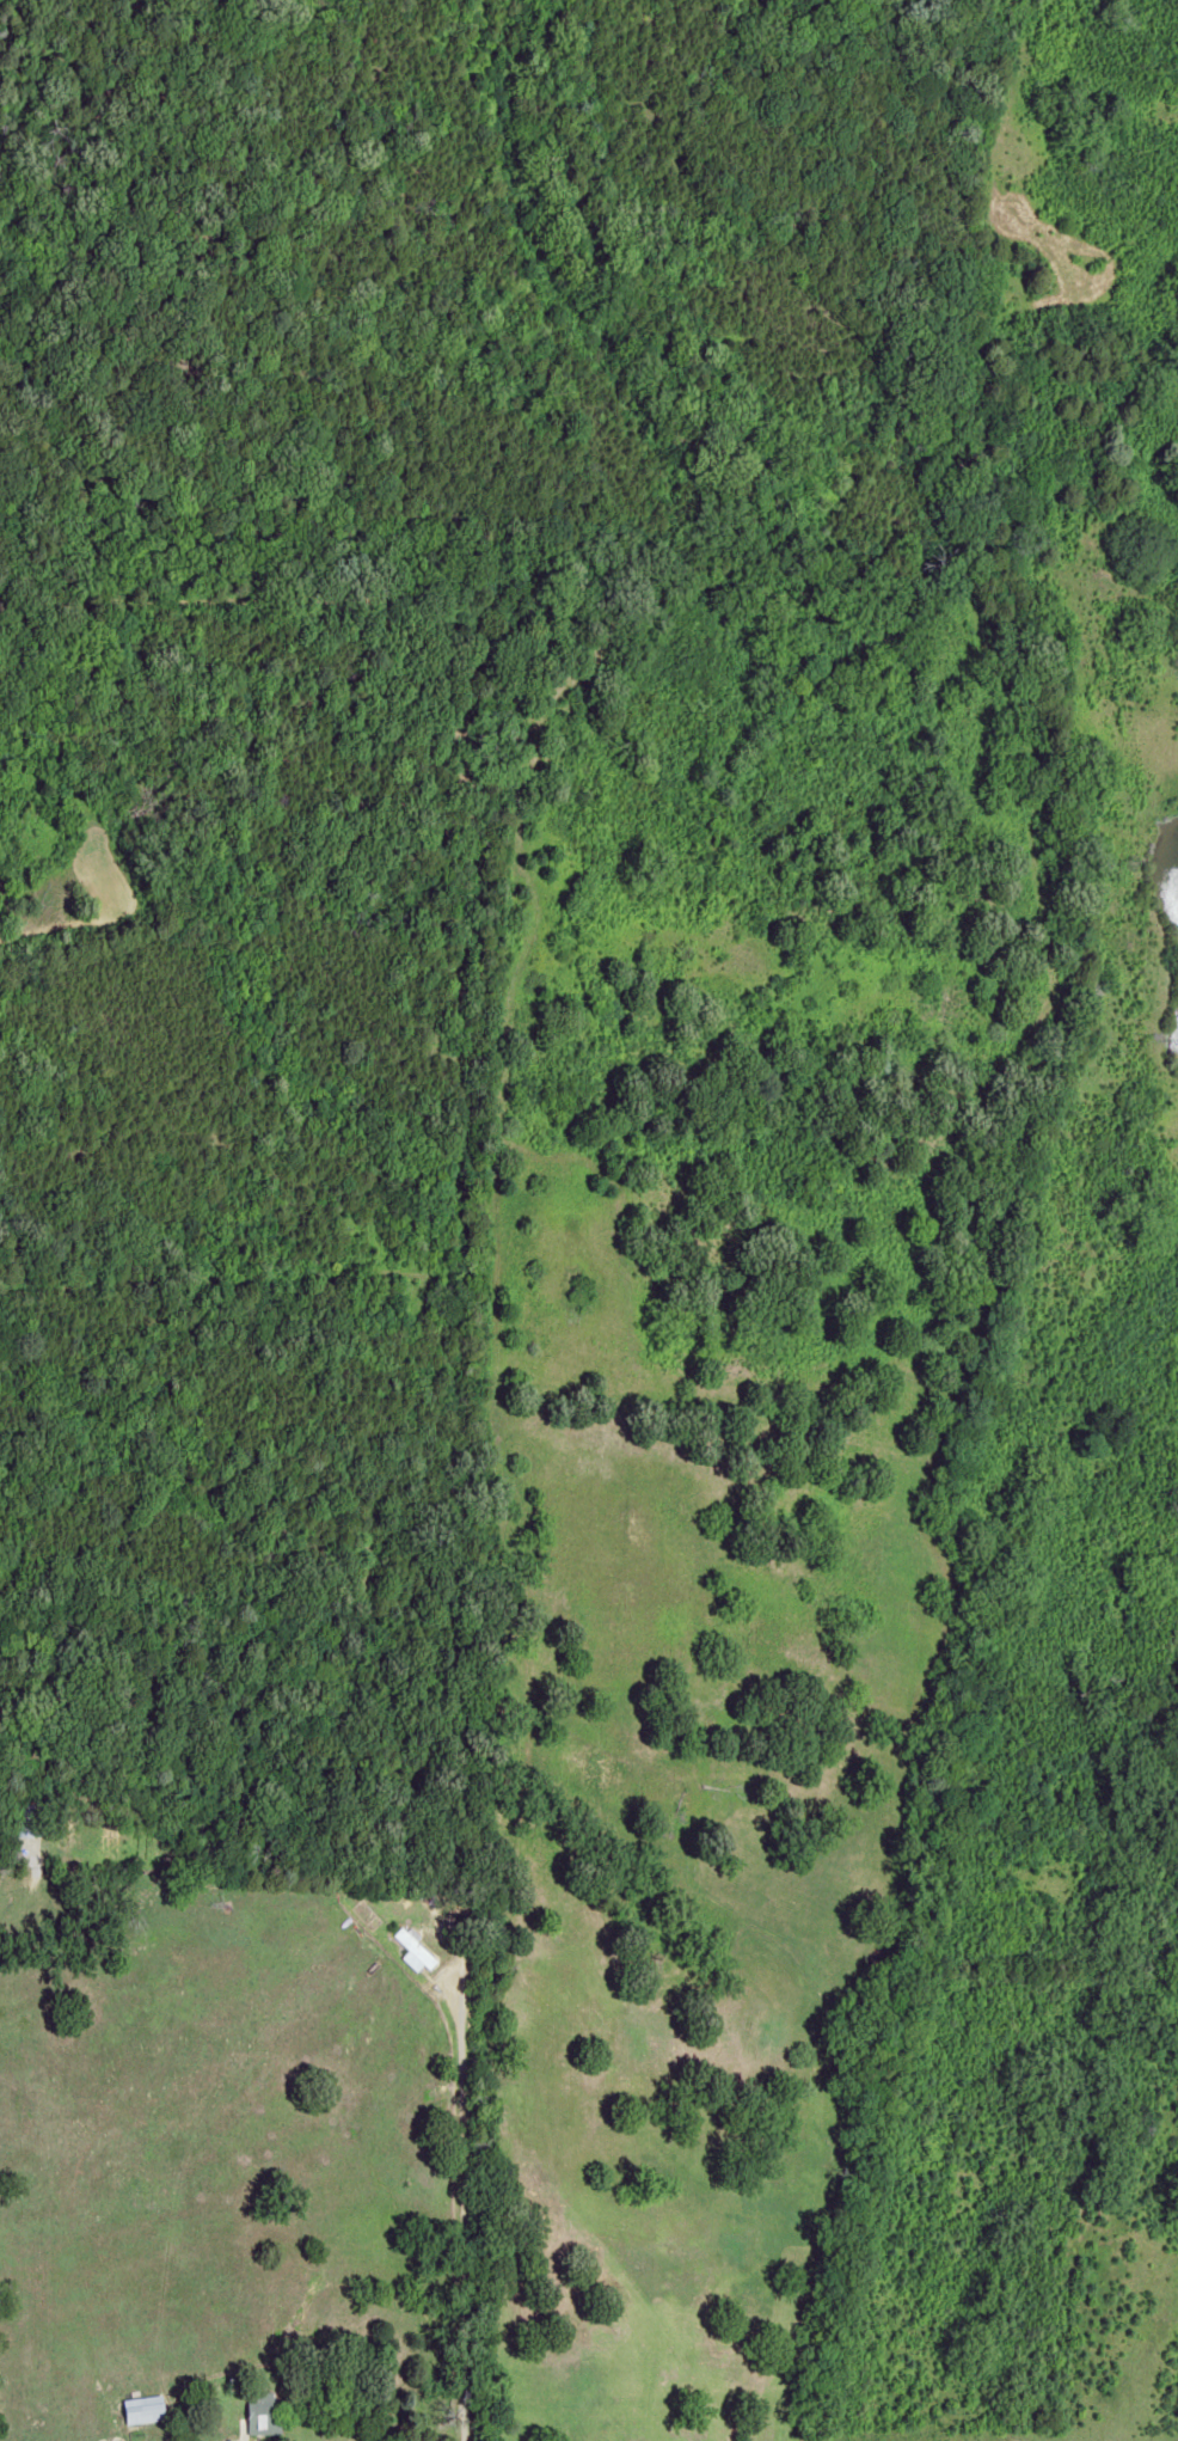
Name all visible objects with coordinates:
building: (27, 1819)
building: (416, 1951)
building: (145, 2410)
building: (262, 2414)

